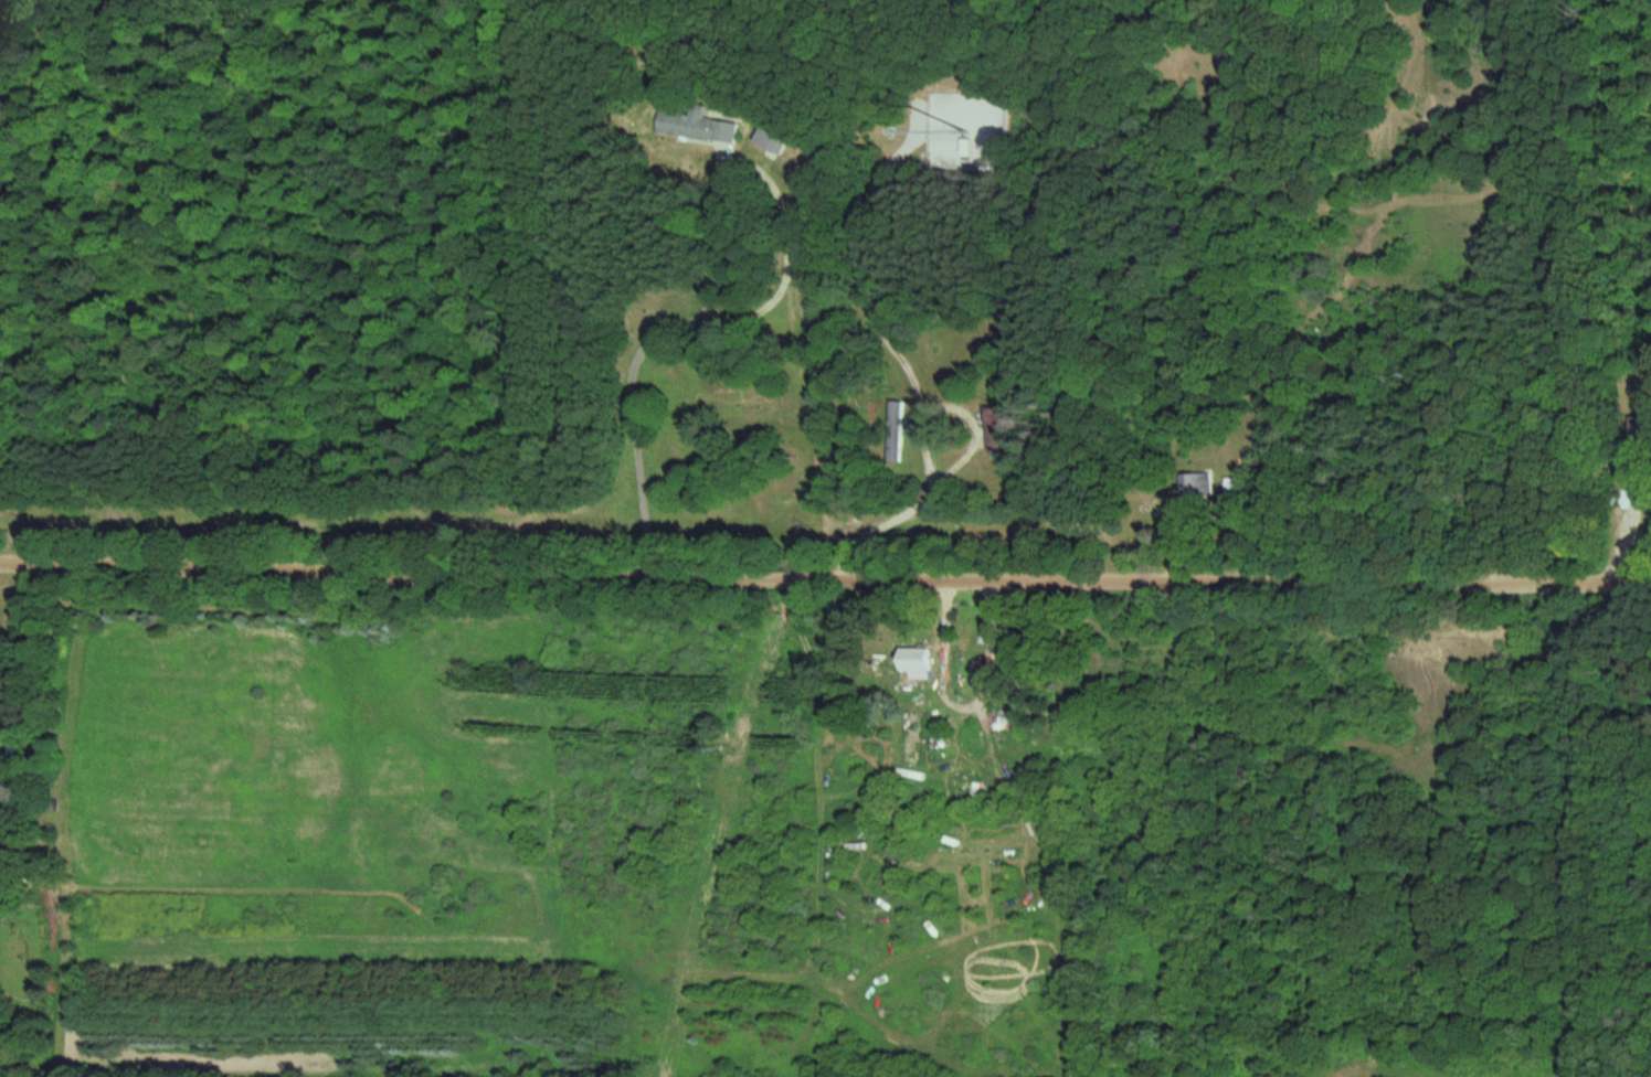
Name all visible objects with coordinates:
road: (1634, 65)
building: (695, 125)
building: (770, 138)
road: (671, 326)
road: (897, 349)
building: (999, 429)
building: (896, 431)
building: (1199, 486)
building: (1234, 487)
road: (825, 564)
building: (913, 659)
building: (1007, 723)

